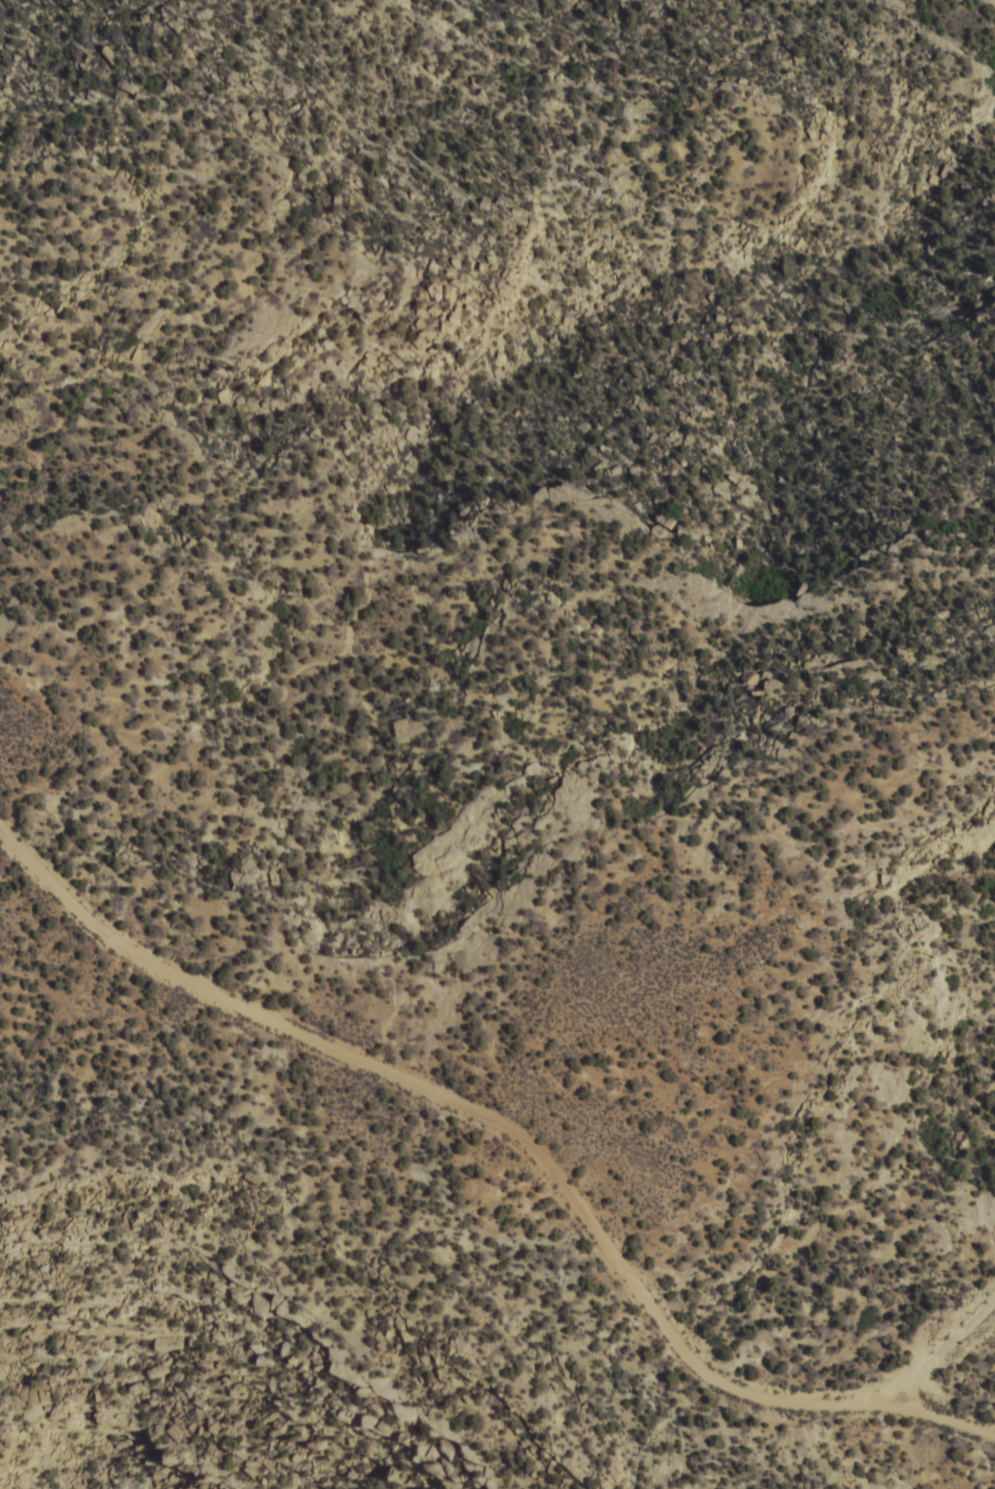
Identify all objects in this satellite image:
road: (489, 1147)

